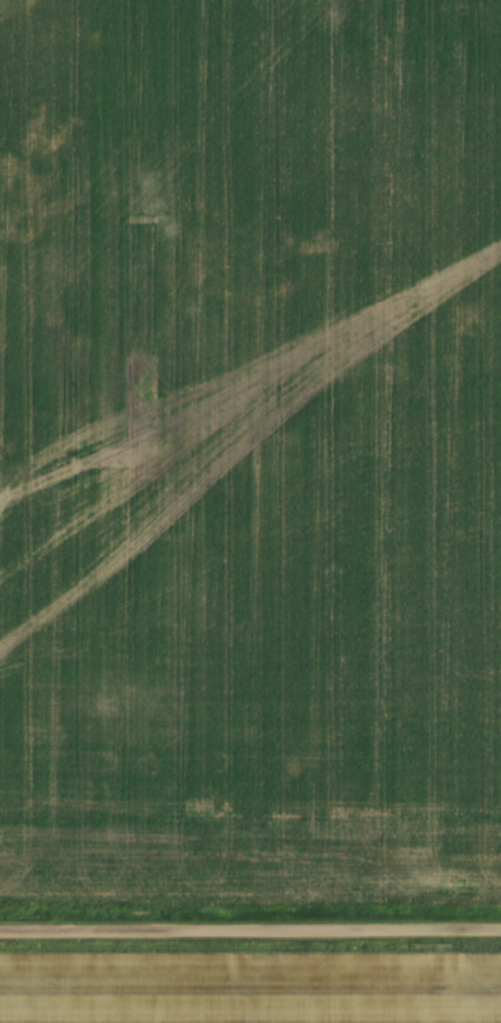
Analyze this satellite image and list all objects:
road: (250, 932)

